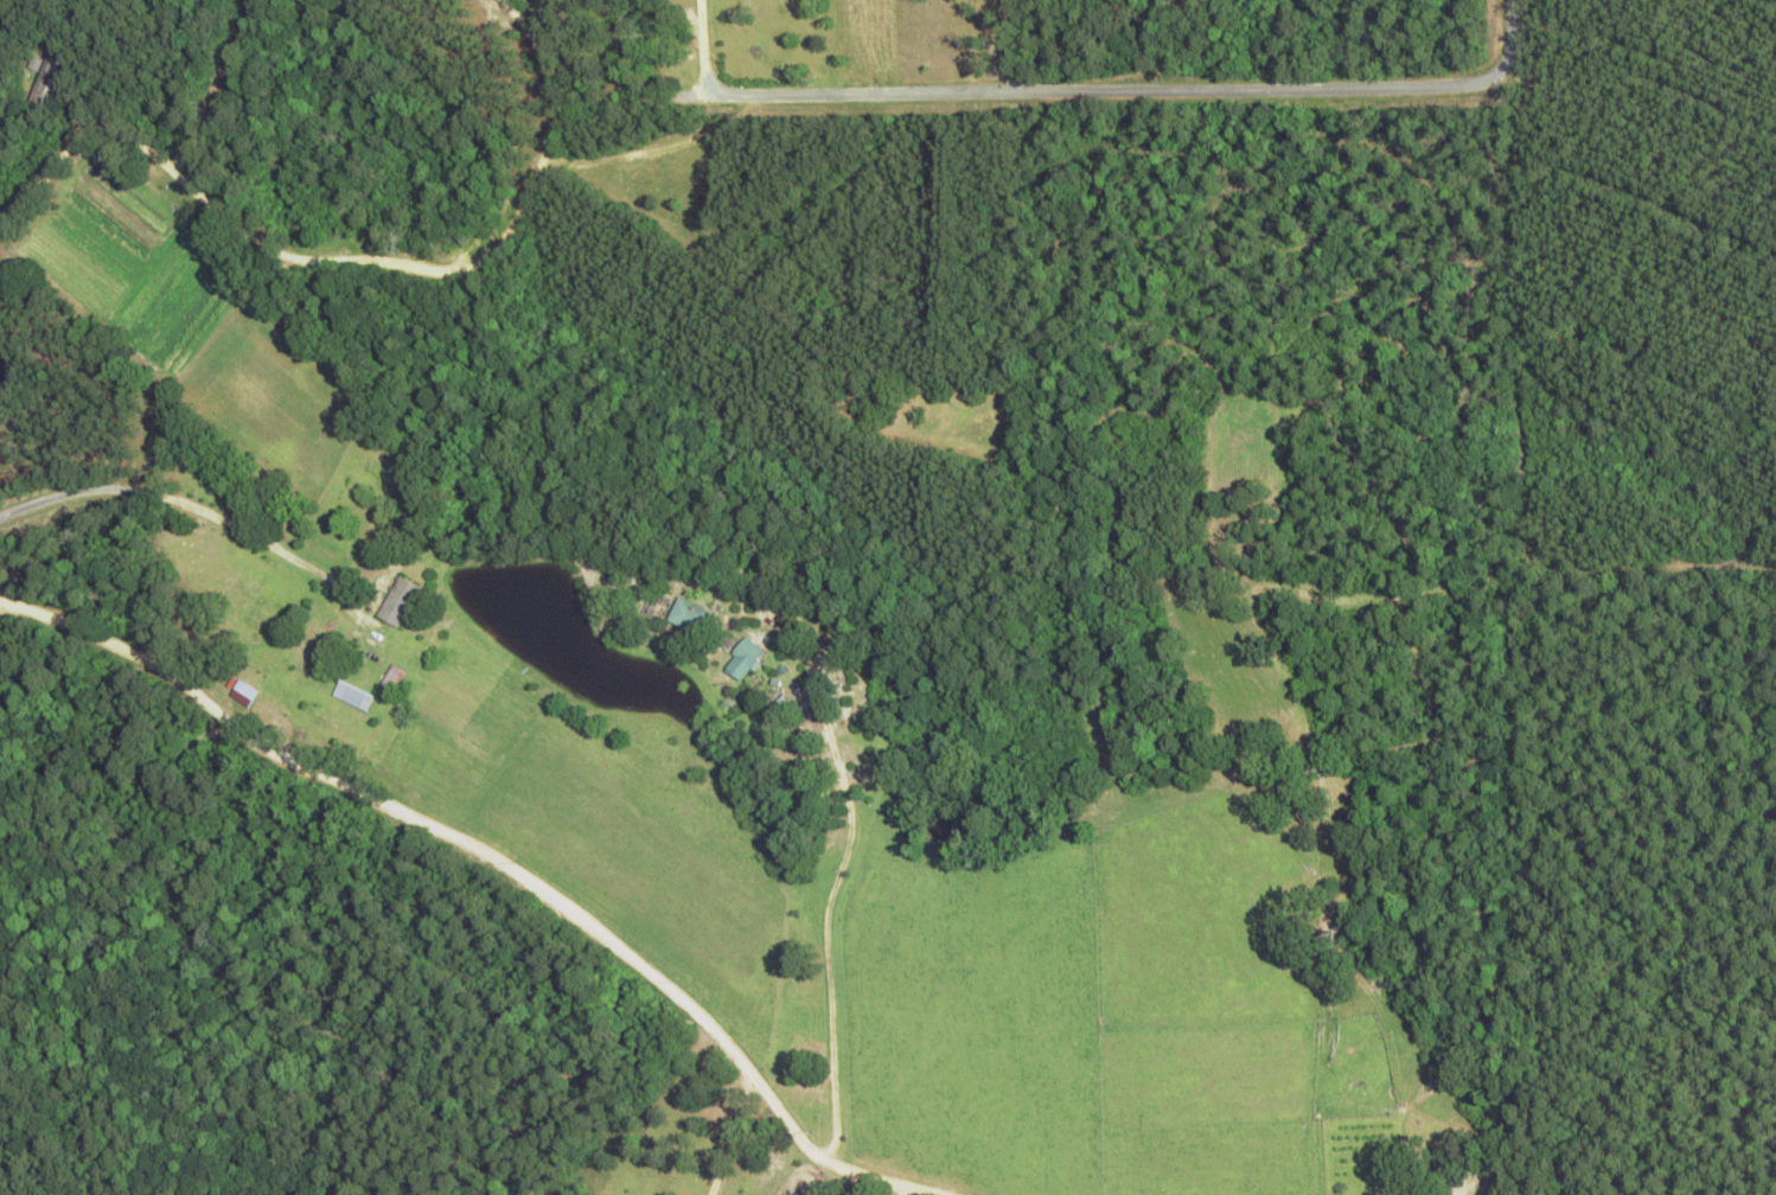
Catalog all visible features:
road: (1095, 90)
road: (263, 244)
road: (180, 501)
building: (398, 601)
building: (689, 614)
building: (748, 652)
building: (392, 677)
building: (243, 692)
building: (353, 695)
road: (509, 859)

